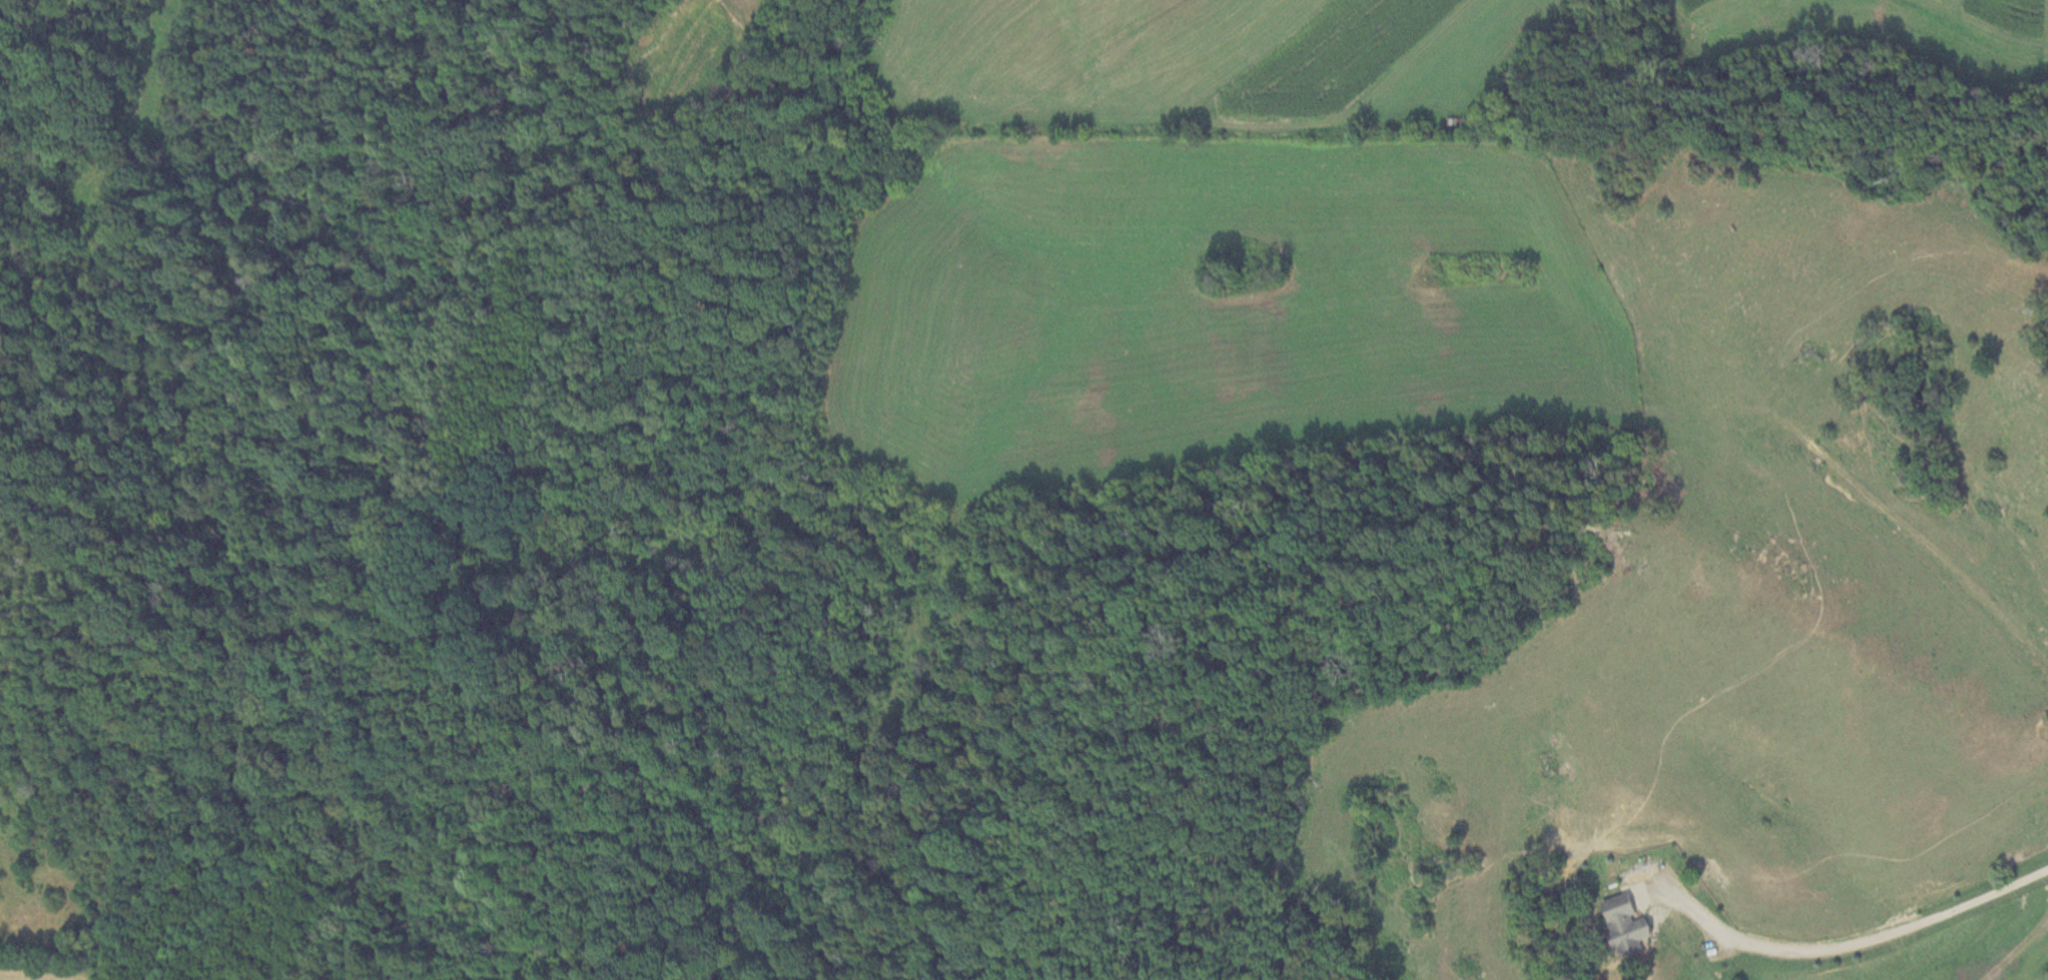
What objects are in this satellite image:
building: (1632, 925)
road: (1848, 947)

